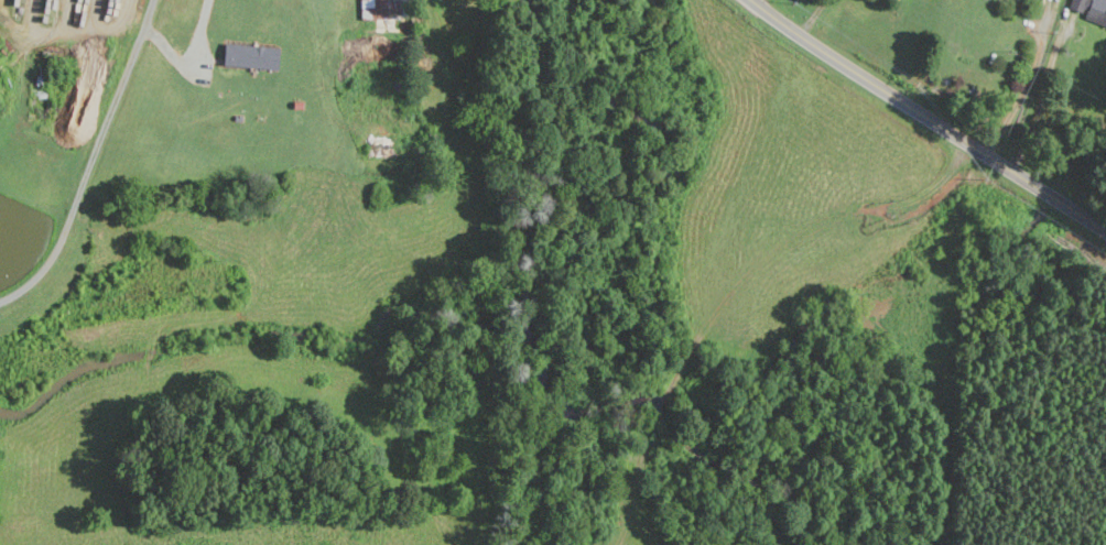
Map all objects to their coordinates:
building: (1089, 9)
road: (71, 31)
building: (249, 56)
road: (188, 57)
road: (1028, 87)
road: (1038, 96)
road: (928, 118)
road: (90, 162)

